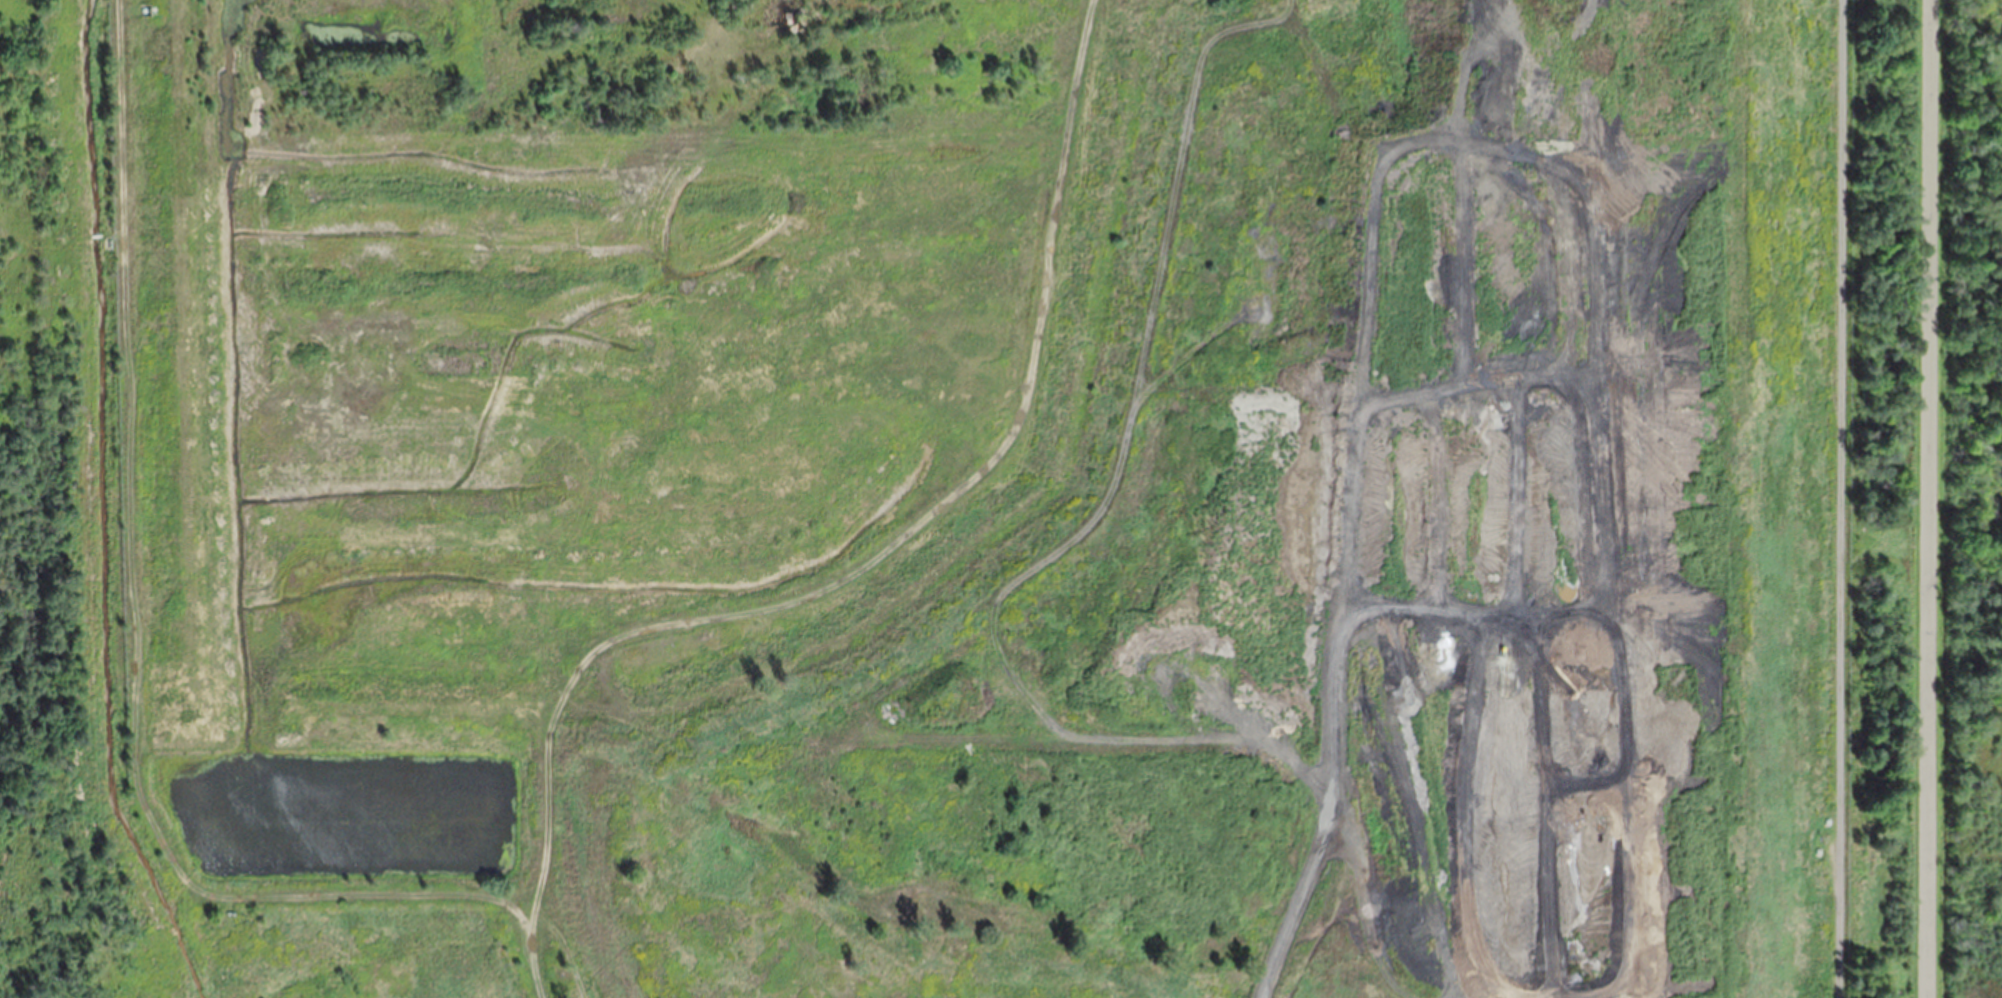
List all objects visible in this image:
road: (1920, 498)

